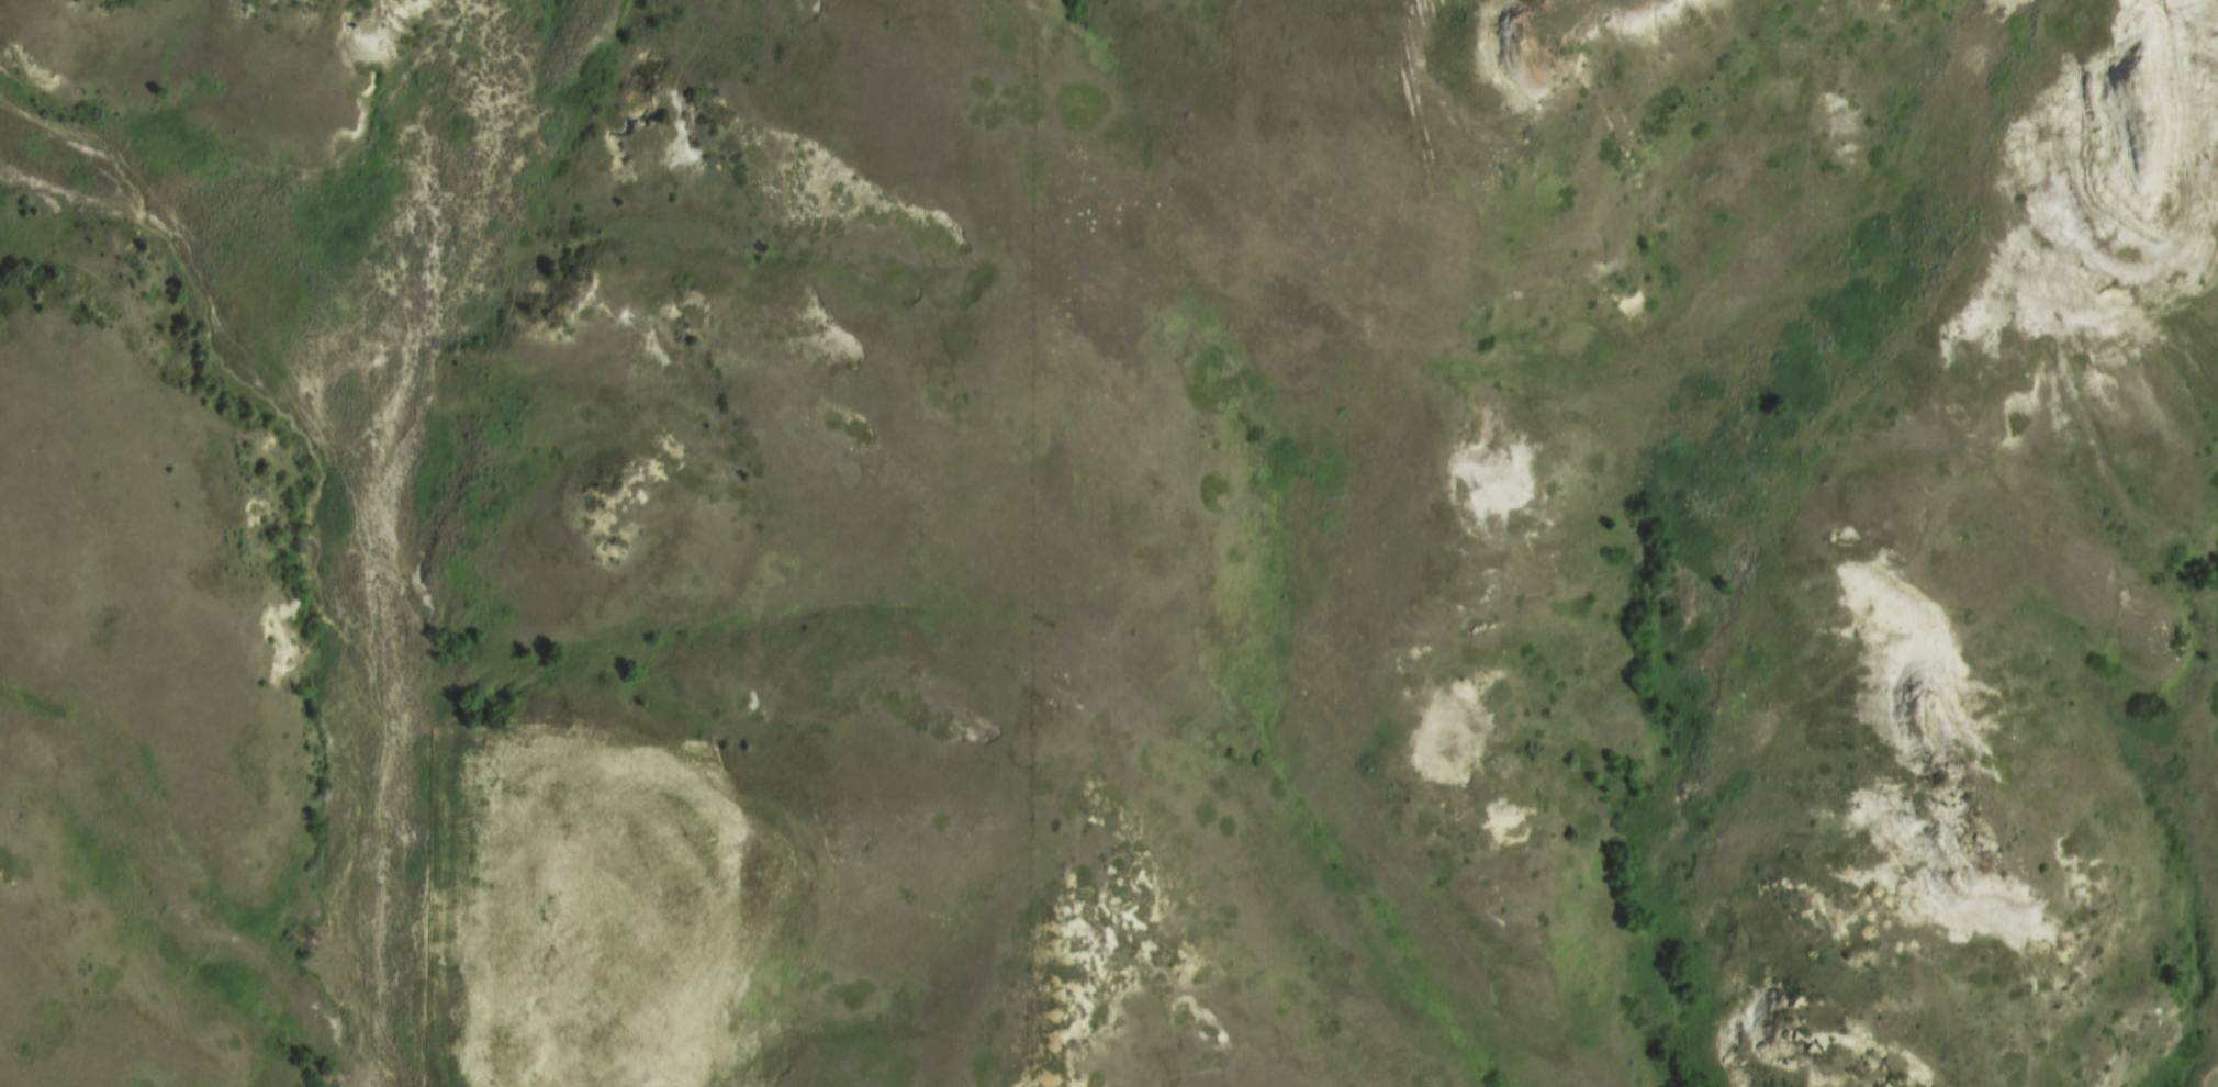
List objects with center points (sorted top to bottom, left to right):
road: (580, 876)
road: (657, 1062)

